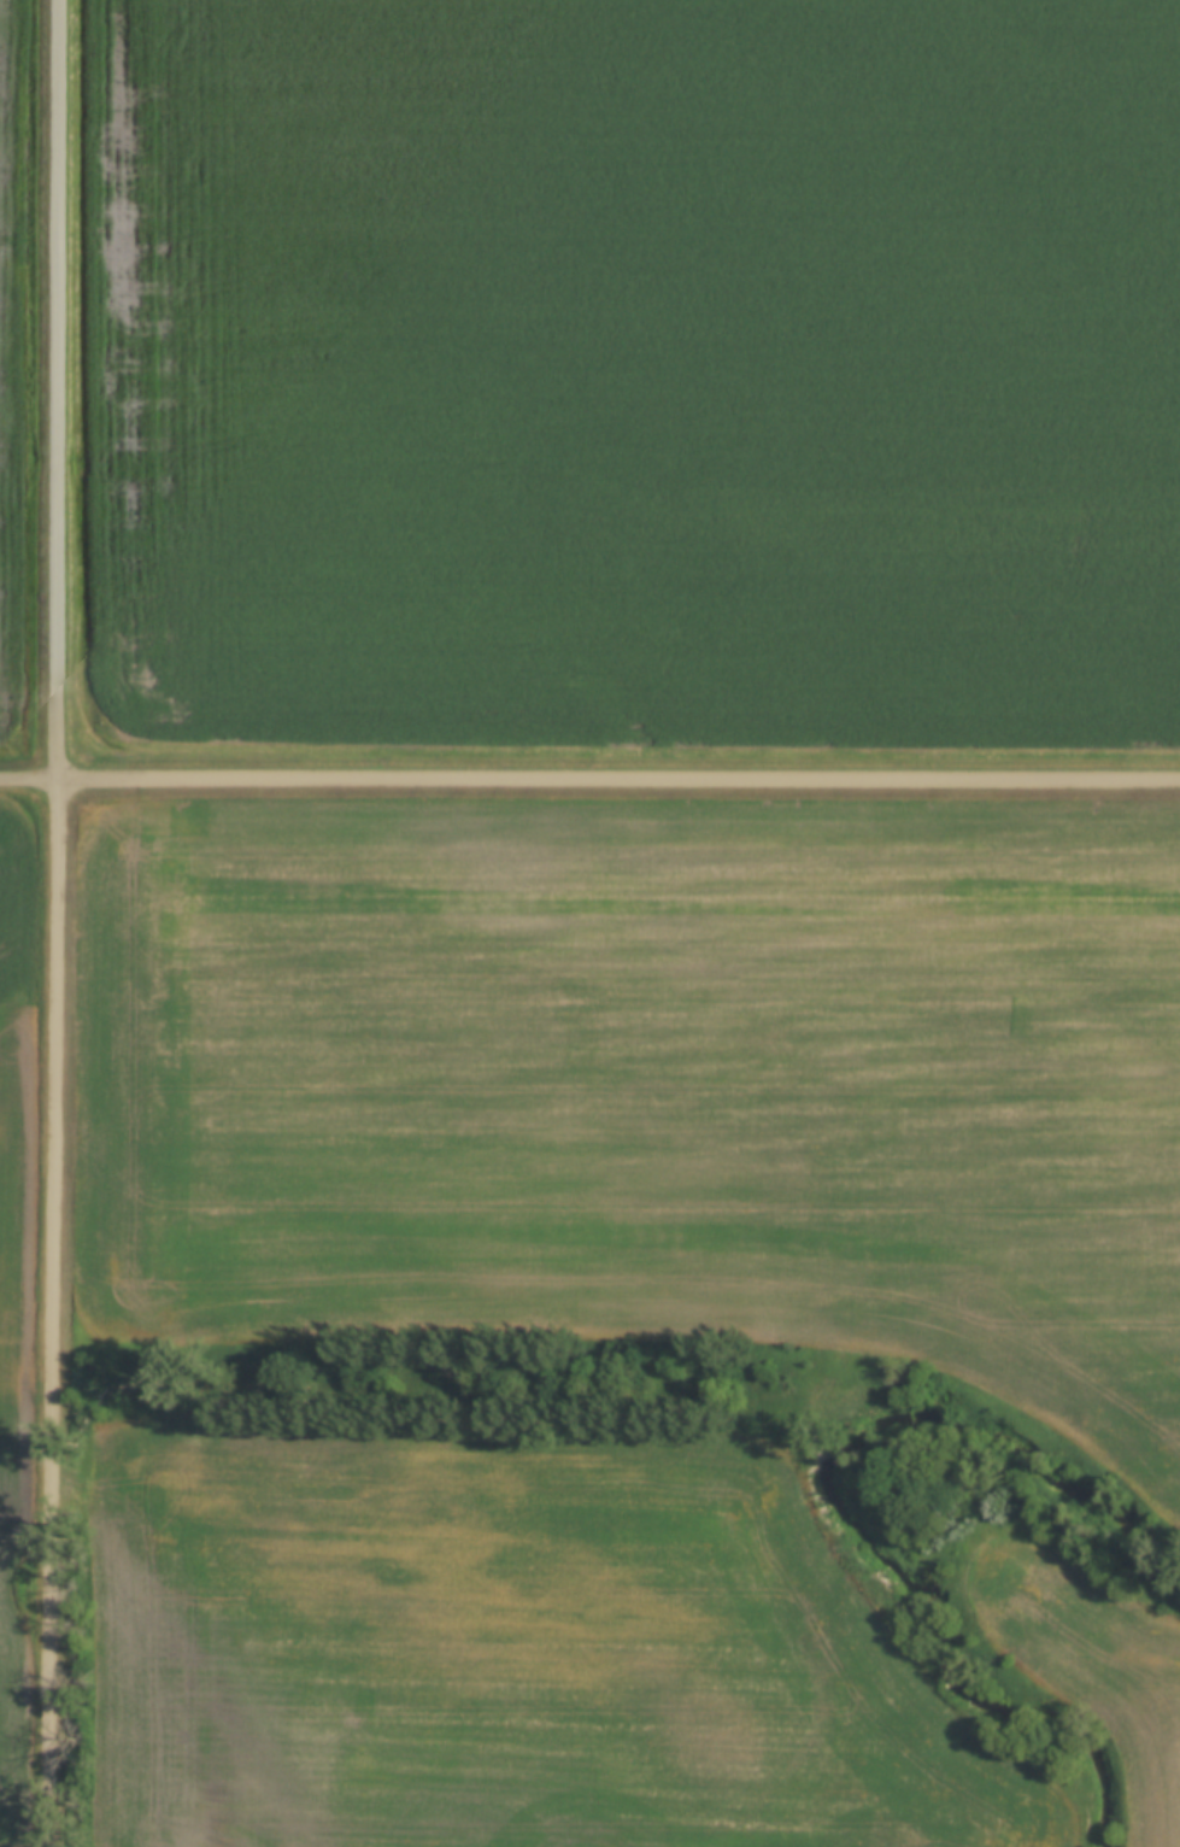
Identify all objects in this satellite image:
road: (589, 780)
road: (57, 923)

